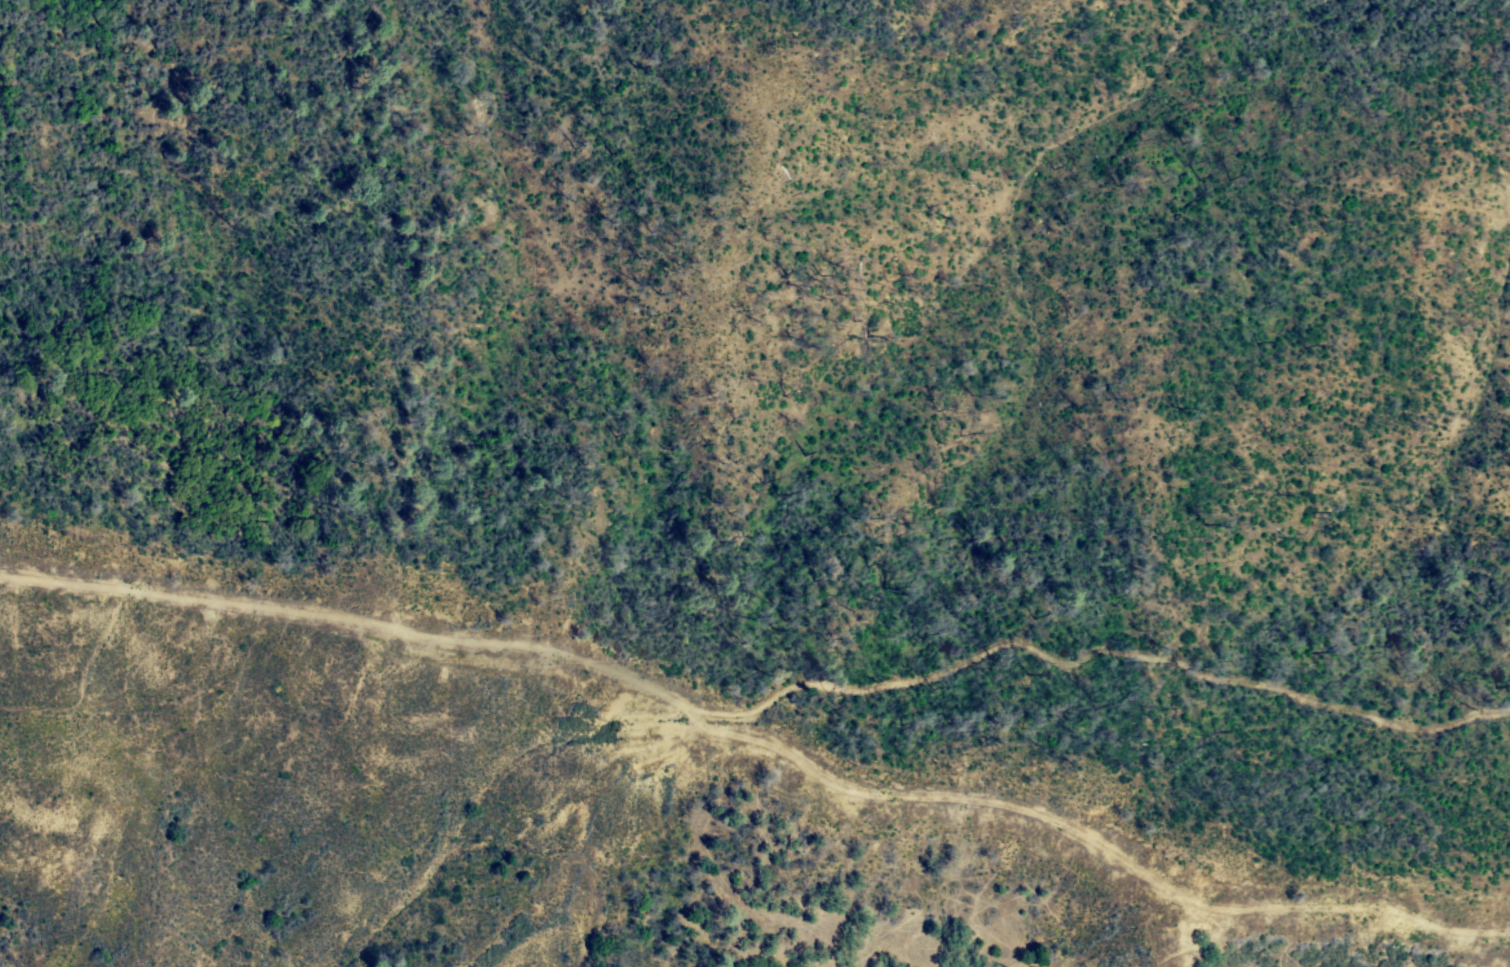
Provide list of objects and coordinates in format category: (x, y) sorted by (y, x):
road: (762, 747)

